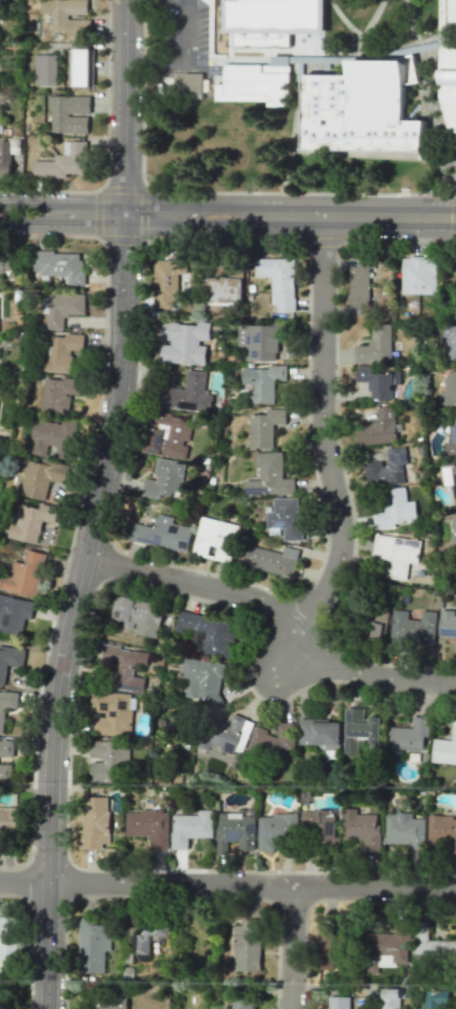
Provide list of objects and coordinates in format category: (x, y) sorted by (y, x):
building: (268, 0)
building: (453, 12)
building: (67, 17)
building: (252, 27)
road: (185, 60)
building: (78, 67)
building: (45, 70)
building: (256, 83)
building: (192, 85)
building: (448, 86)
building: (363, 105)
building: (69, 114)
building: (6, 158)
building: (63, 162)
street lamp: (251, 191)
road: (300, 192)
road: (62, 205)
road: (290, 215)
road: (62, 222)
street lamp: (344, 245)
building: (1, 262)
building: (59, 265)
building: (419, 275)
building: (167, 280)
building: (278, 280)
building: (455, 282)
building: (359, 286)
building: (222, 290)
building: (63, 308)
building: (259, 342)
building: (450, 342)
building: (376, 345)
building: (61, 352)
building: (378, 381)
building: (263, 382)
building: (450, 387)
building: (58, 393)
building: (189, 394)
building: (264, 428)
building: (378, 428)
building: (165, 433)
road: (325, 437)
building: (52, 438)
building: (451, 442)
building: (387, 468)
building: (271, 474)
building: (40, 477)
building: (164, 479)
building: (450, 479)
road: (95, 505)
building: (395, 509)
building: (285, 517)
building: (30, 521)
building: (454, 528)
building: (162, 534)
building: (215, 539)
building: (395, 555)
building: (273, 560)
building: (24, 574)
building: (14, 614)
building: (138, 615)
road: (275, 616)
building: (447, 623)
building: (378, 624)
building: (412, 629)
building: (209, 632)
building: (9, 660)
road: (288, 662)
building: (126, 665)
building: (202, 682)
building: (7, 704)
building: (112, 714)
building: (360, 730)
building: (227, 733)
building: (320, 733)
building: (408, 737)
building: (272, 741)
building: (6, 748)
building: (445, 749)
building: (107, 759)
building: (5, 773)
building: (9, 819)
building: (94, 822)
building: (318, 824)
building: (149, 826)
building: (190, 828)
building: (362, 829)
building: (275, 830)
building: (235, 831)
building: (404, 831)
building: (442, 833)
road: (228, 884)
building: (5, 929)
building: (148, 938)
building: (247, 945)
building: (92, 946)
building: (431, 946)
road: (291, 947)
building: (386, 947)
building: (326, 948)
road: (348, 986)
building: (389, 998)
building: (434, 998)
building: (110, 1001)
building: (337, 1002)
building: (242, 1003)
building: (0, 1006)

